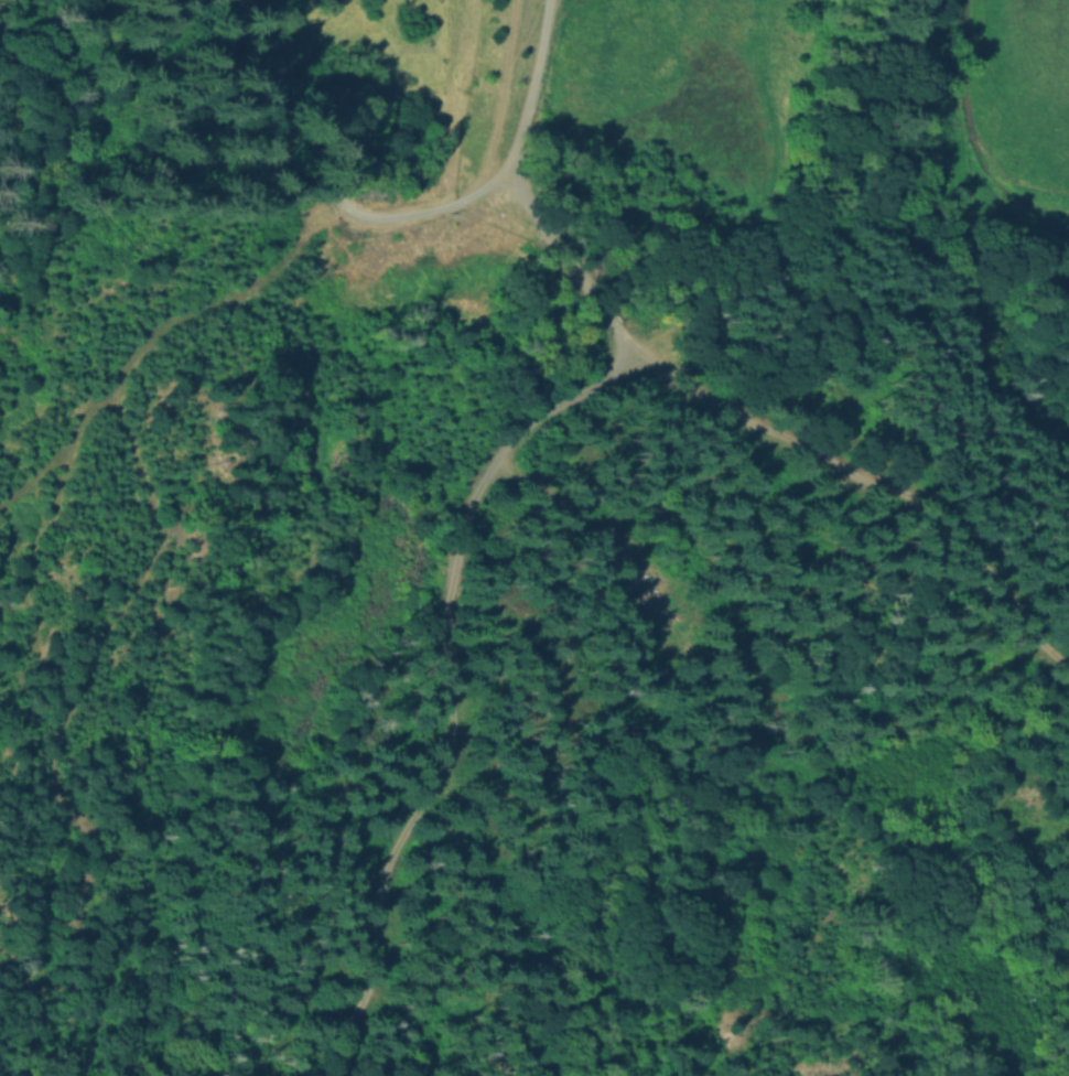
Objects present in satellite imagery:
road: (332, 182)
road: (695, 392)
road: (452, 689)

